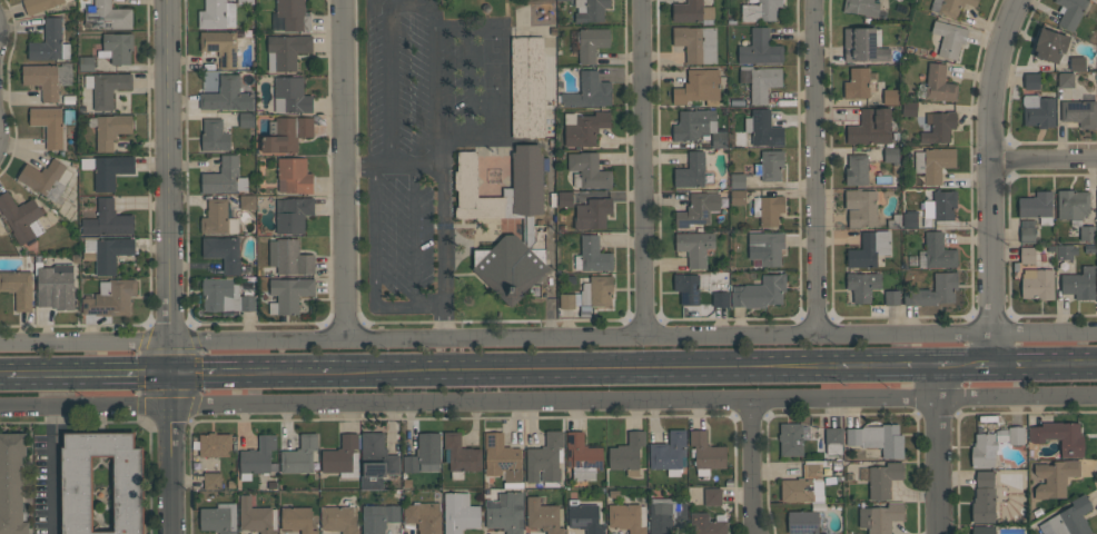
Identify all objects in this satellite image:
building: (563, 0)
building: (1096, 0)
building: (245, 1)
building: (39, 4)
road: (411, 6)
building: (860, 7)
building: (950, 7)
building: (590, 10)
building: (760, 10)
building: (1069, 11)
building: (692, 12)
building: (216, 14)
building: (293, 14)
building: (108, 17)
building: (949, 38)
building: (49, 42)
building: (592, 43)
building: (696, 43)
building: (1049, 44)
building: (862, 46)
building: (220, 47)
building: (117, 48)
building: (760, 48)
building: (286, 51)
building: (1077, 62)
building: (86, 63)
building: (47, 78)
building: (1065, 79)
building: (1031, 80)
building: (760, 81)
building: (857, 83)
building: (938, 83)
building: (526, 87)
building: (106, 88)
building: (698, 88)
building: (589, 91)
building: (226, 96)
building: (290, 96)
building: (890, 96)
building: (909, 108)
building: (1038, 110)
building: (1079, 112)
building: (246, 120)
building: (48, 125)
building: (693, 125)
building: (871, 127)
building: (939, 127)
building: (584, 128)
building: (763, 128)
building: (110, 129)
building: (285, 133)
building: (214, 136)
building: (719, 139)
building: (891, 155)
road: (1046, 158)
building: (933, 164)
building: (771, 165)
road: (814, 166)
road: (642, 167)
road: (345, 168)
building: (107, 169)
building: (857, 169)
building: (587, 171)
building: (691, 171)
building: (293, 176)
building: (224, 177)
road: (996, 178)
building: (46, 179)
building: (737, 180)
building: (737, 197)
building: (564, 199)
building: (247, 201)
road: (444, 204)
building: (1073, 204)
building: (940, 206)
building: (1037, 206)
building: (860, 208)
building: (698, 209)
building: (768, 209)
building: (504, 214)
building: (592, 214)
building: (293, 215)
building: (21, 218)
building: (217, 218)
building: (909, 218)
building: (107, 220)
building: (1096, 224)
building: (1087, 233)
building: (1027, 234)
building: (694, 247)
building: (765, 247)
building: (870, 249)
building: (223, 251)
building: (938, 251)
building: (1065, 251)
building: (108, 253)
building: (592, 255)
building: (1027, 255)
building: (289, 257)
road: (176, 267)
building: (1037, 284)
building: (1079, 284)
building: (862, 285)
building: (55, 286)
building: (18, 287)
building: (686, 288)
building: (594, 291)
building: (760, 291)
building: (933, 291)
building: (289, 294)
building: (221, 296)
building: (891, 297)
building: (110, 298)
building: (720, 299)
building: (566, 300)
building: (247, 303)
road: (394, 306)
road: (429, 306)
road: (548, 335)
road: (984, 362)
road: (1046, 362)
road: (962, 363)
road: (946, 364)
road: (635, 368)
road: (254, 374)
traffic signals: (177, 375)
road: (91, 376)
road: (2, 377)
road: (547, 405)
building: (1016, 435)
building: (1059, 437)
building: (790, 438)
building: (878, 439)
building: (833, 441)
building: (215, 444)
road: (939, 448)
building: (984, 451)
building: (669, 453)
building: (705, 453)
building: (424, 454)
building: (627, 454)
building: (299, 455)
building: (459, 455)
building: (257, 457)
building: (342, 457)
building: (582, 457)
building: (502, 458)
building: (545, 459)
building: (376, 461)
road: (754, 468)
road: (56, 472)
building: (1054, 477)
building: (883, 479)
building: (211, 481)
building: (11, 484)
building: (803, 486)
building: (76, 493)
building: (712, 496)
building: (984, 498)
building: (458, 513)
building: (505, 513)
building: (664, 515)
building: (257, 516)
building: (423, 516)
building: (543, 516)
building: (584, 517)
building: (627, 517)
building: (880, 517)
building: (218, 518)
building: (339, 518)
building: (378, 518)
building: (1068, 518)
building: (297, 520)
building: (708, 523)
building: (803, 523)
building: (982, 530)

